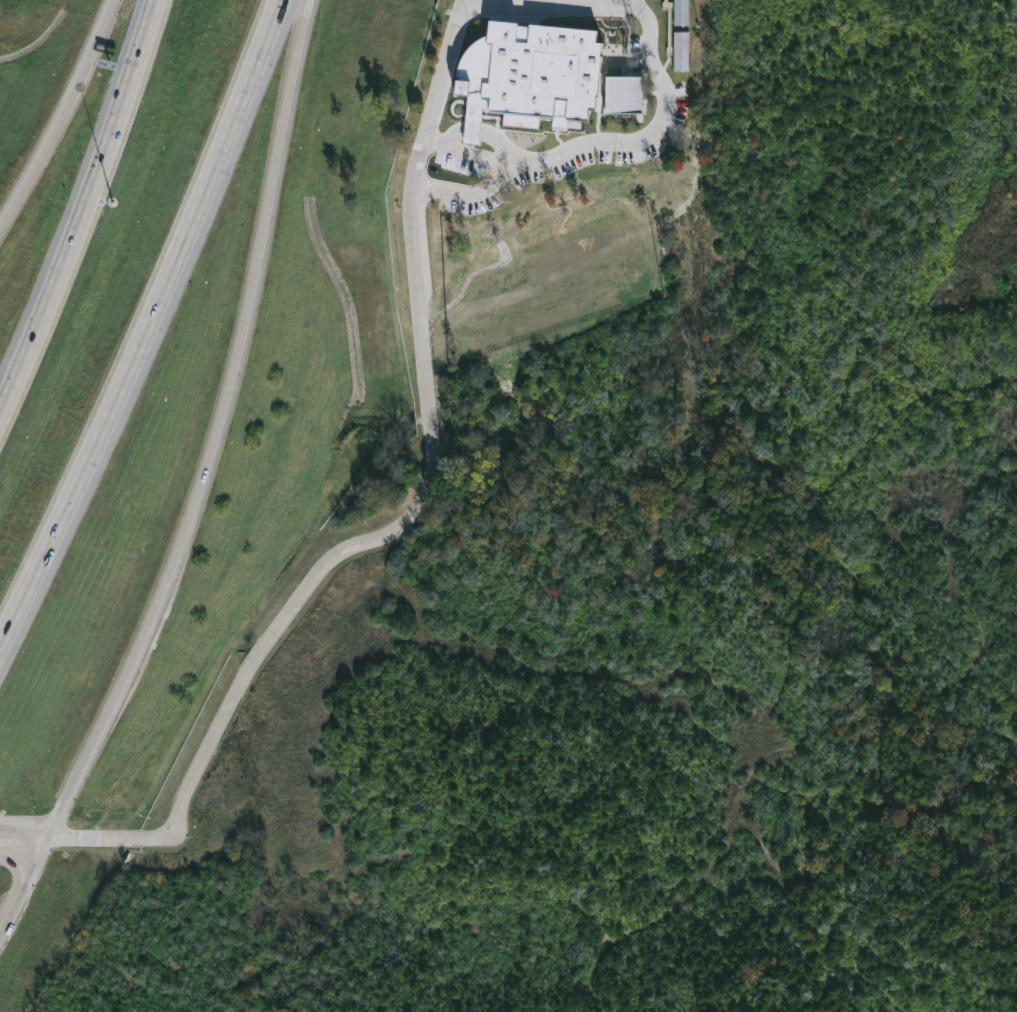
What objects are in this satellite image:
road: (464, 1)
building: (681, 12)
building: (681, 51)
building: (531, 75)
building: (627, 94)
road: (62, 115)
building: (682, 119)
road: (649, 146)
street lamp: (111, 200)
road: (83, 206)
road: (147, 325)
road: (216, 432)
road: (428, 476)
road: (21, 832)
road: (21, 846)
road: (22, 881)

